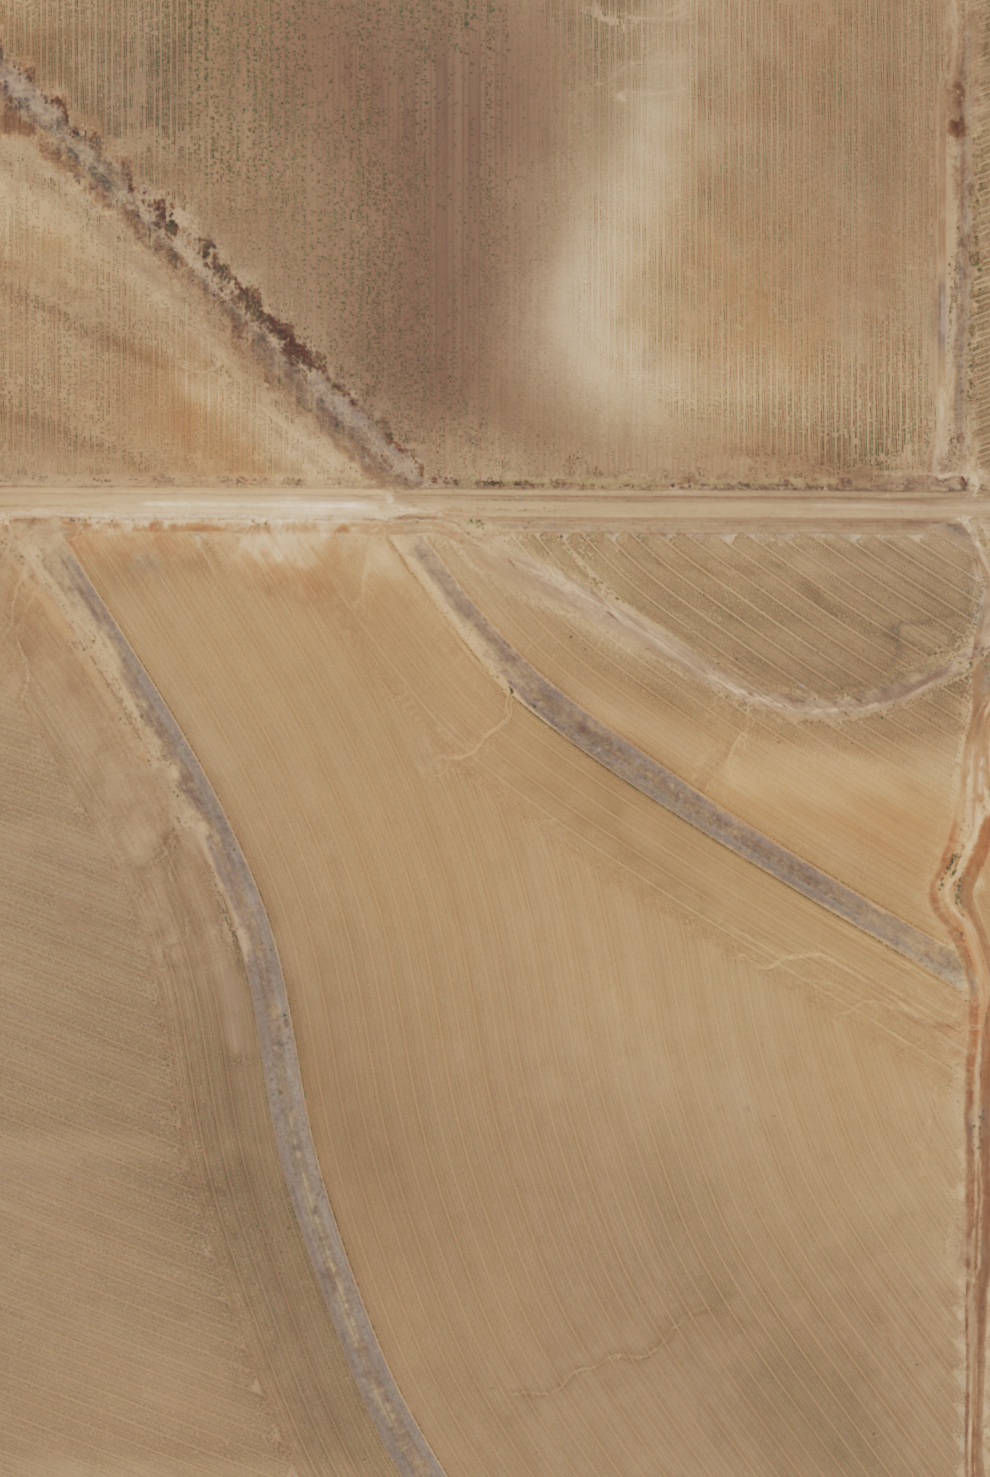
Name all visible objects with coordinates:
road: (919, 253)
road: (495, 503)

